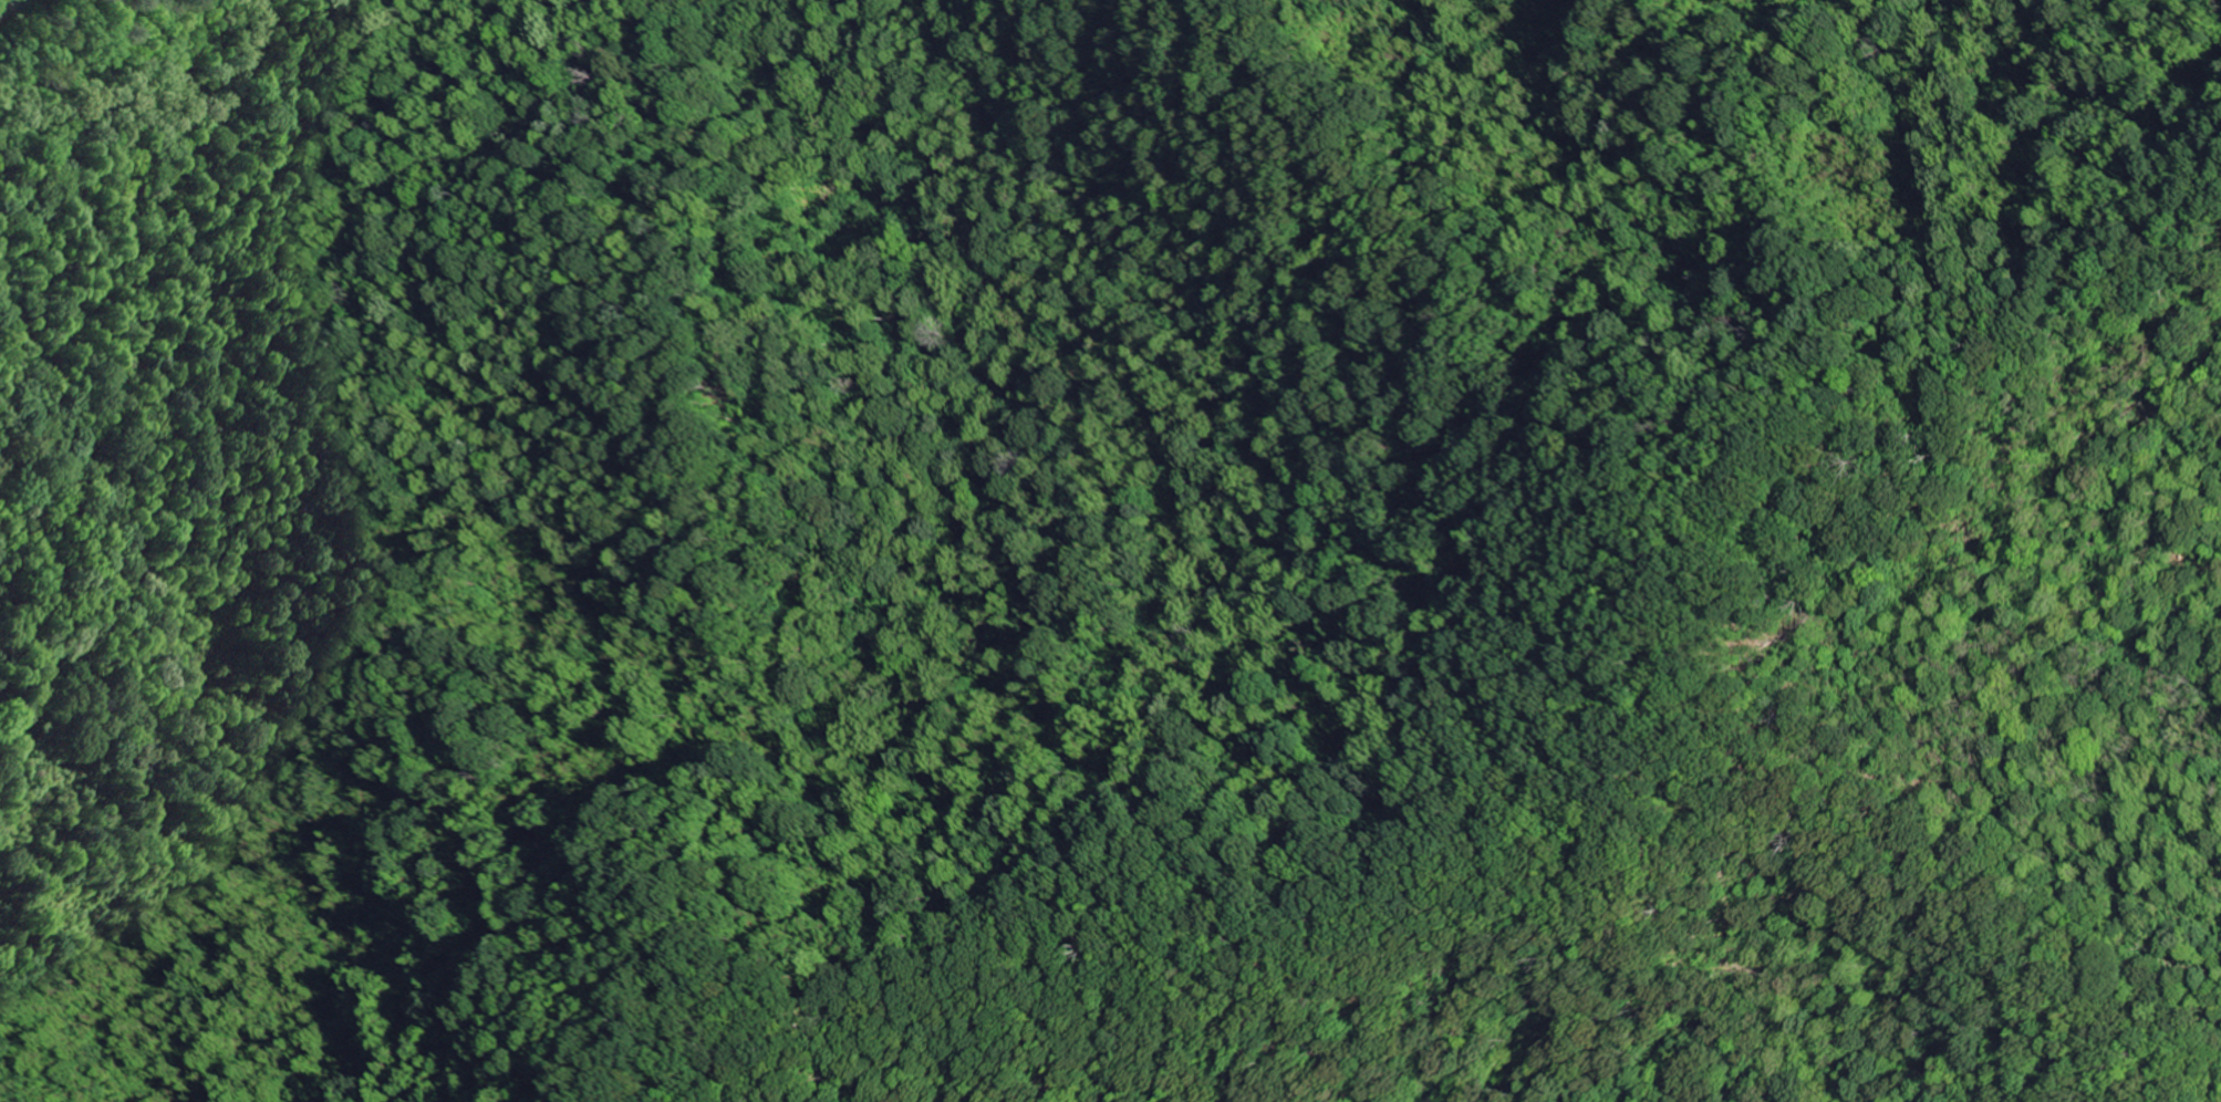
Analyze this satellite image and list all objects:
road: (10, 6)

